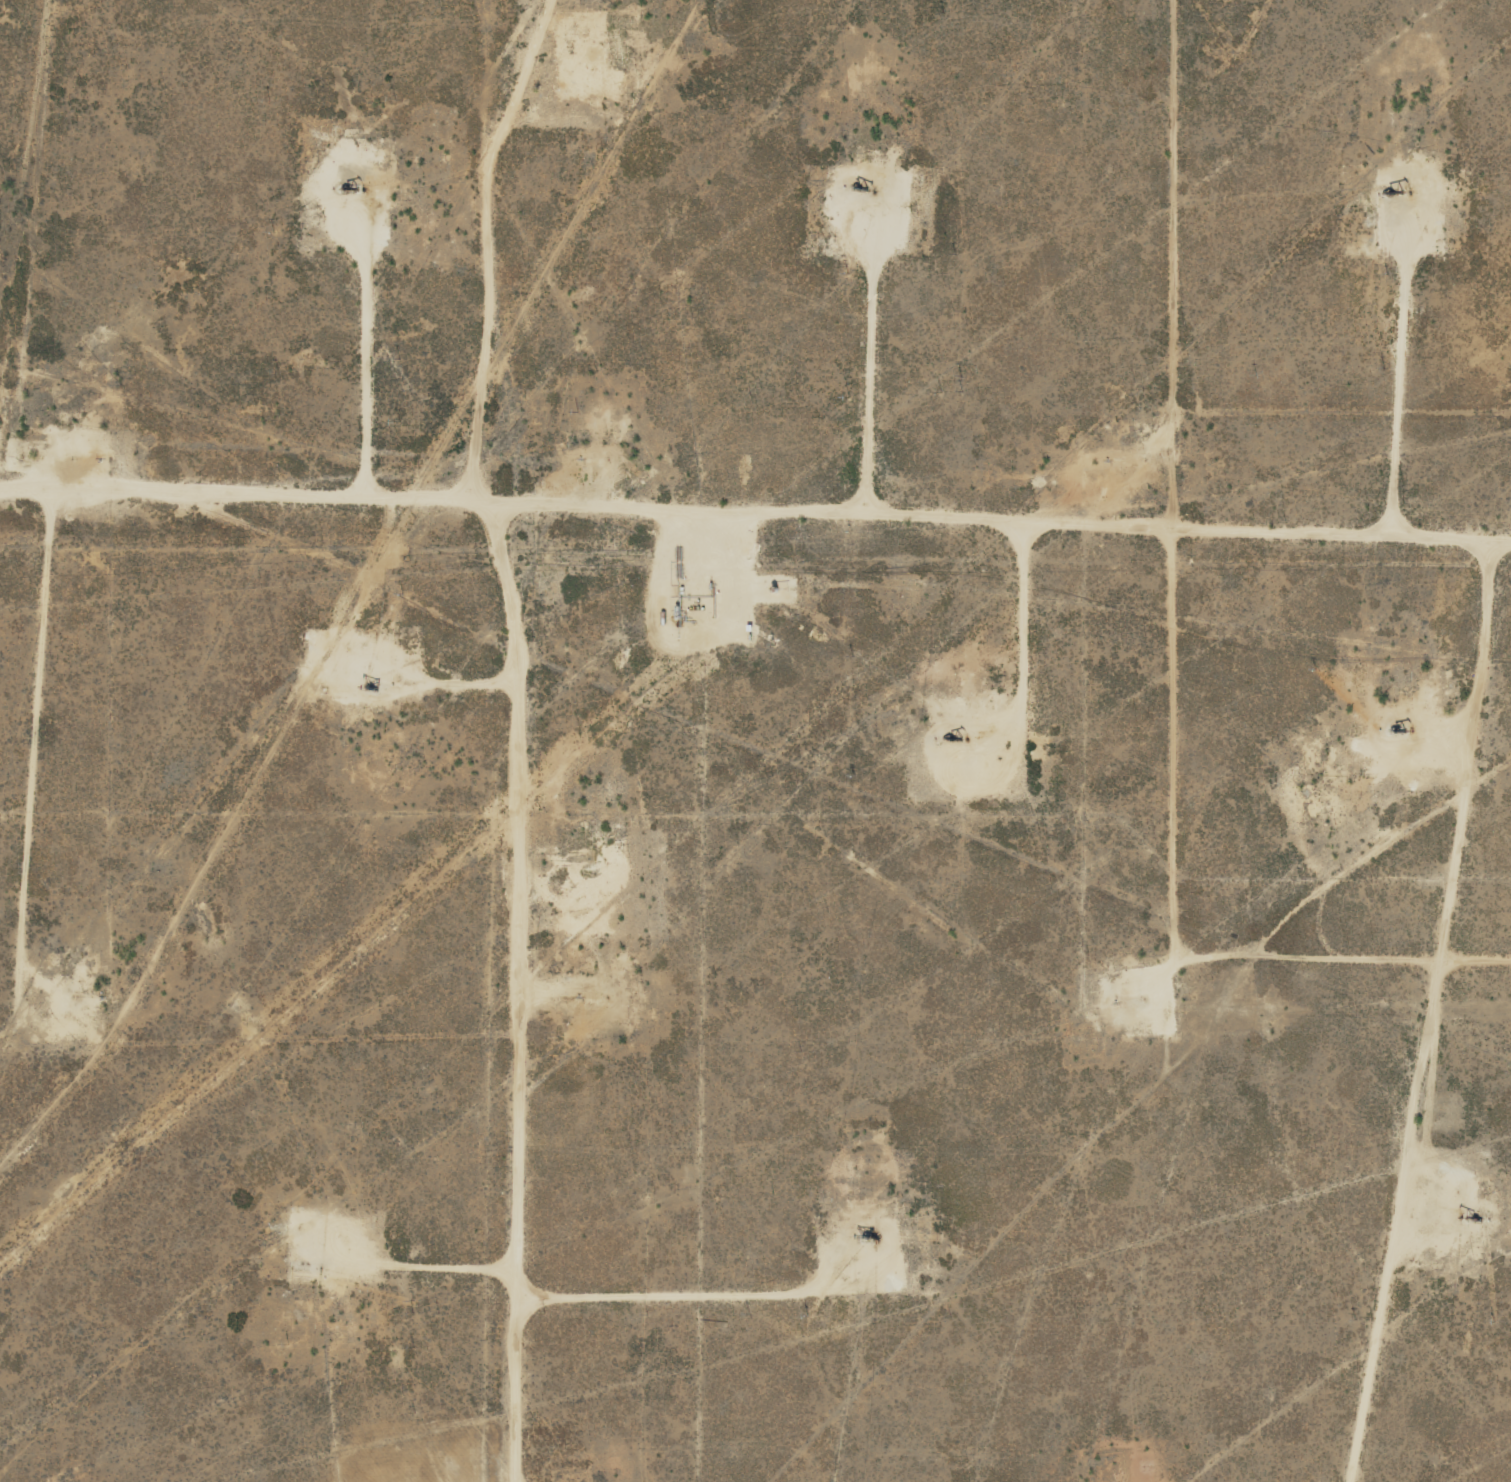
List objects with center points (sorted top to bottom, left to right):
road: (755, 496)
road: (1155, 629)
road: (53, 722)
road: (522, 732)

